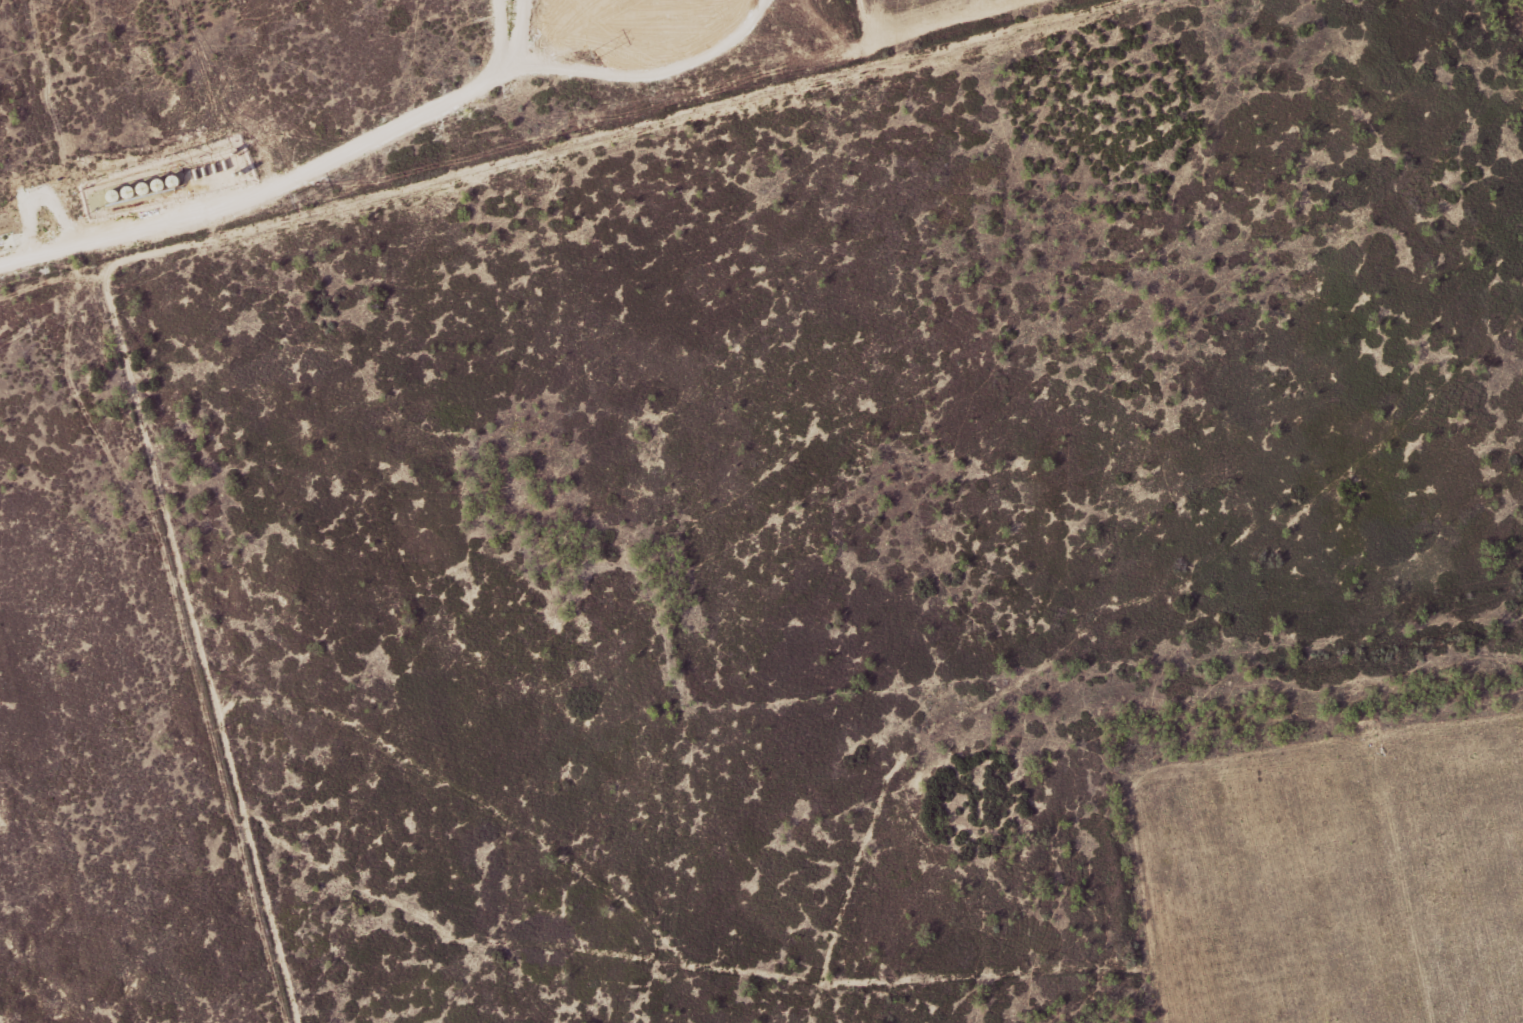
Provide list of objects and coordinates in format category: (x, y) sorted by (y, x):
power tower: (597, 50)
power tower: (299, 196)

